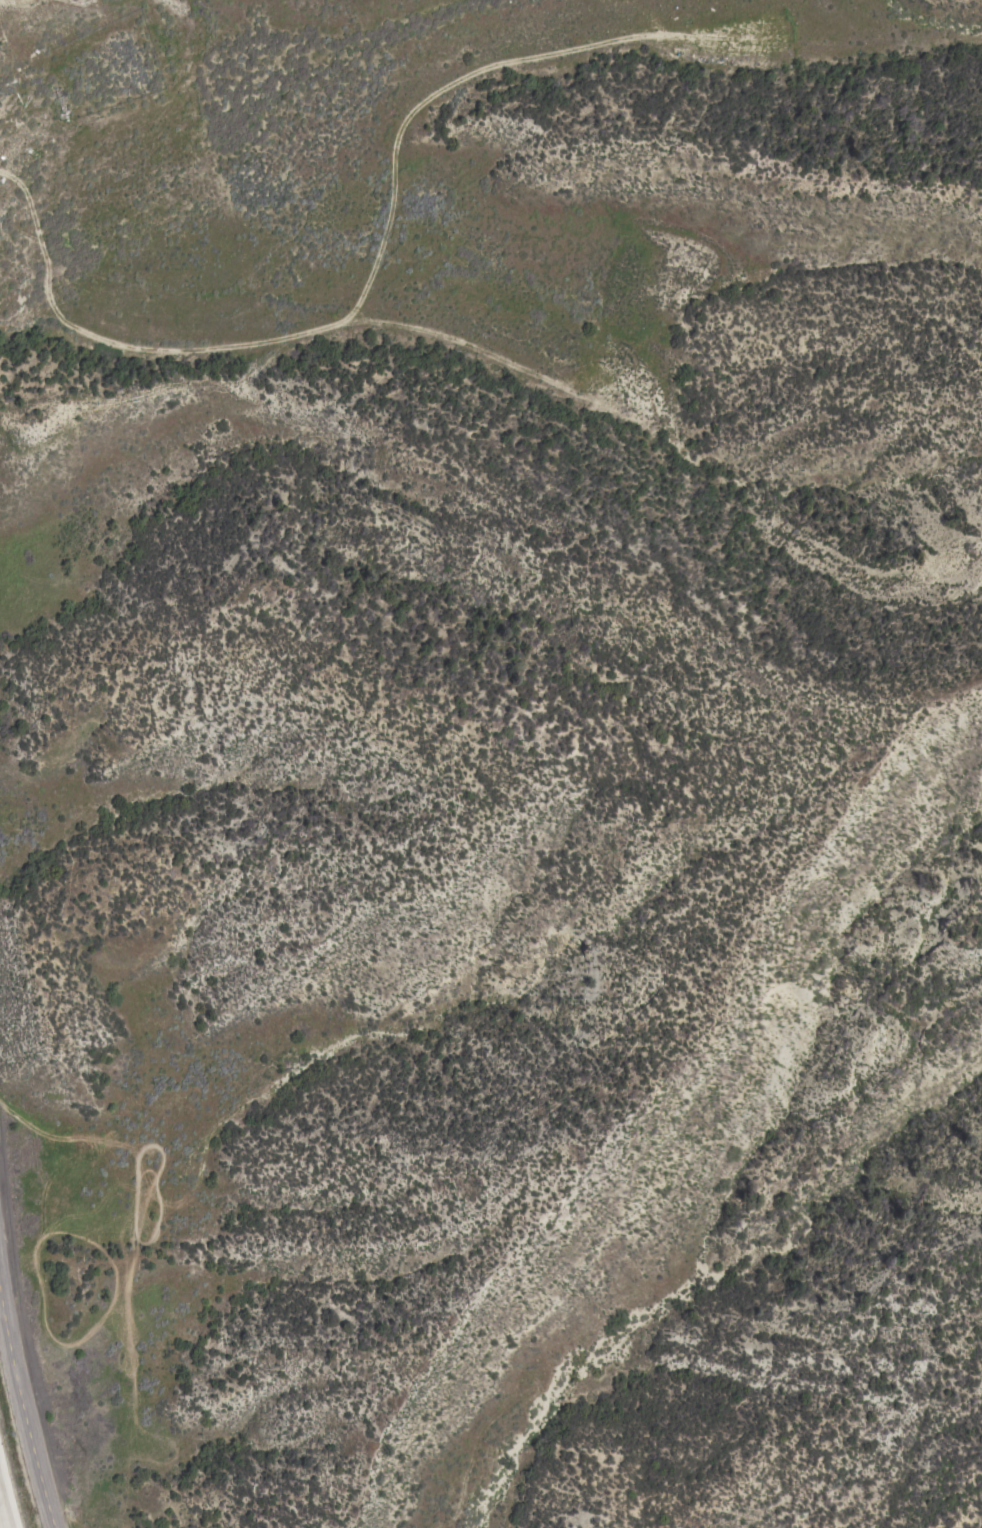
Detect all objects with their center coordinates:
road: (24, 1404)
road: (2, 1520)

